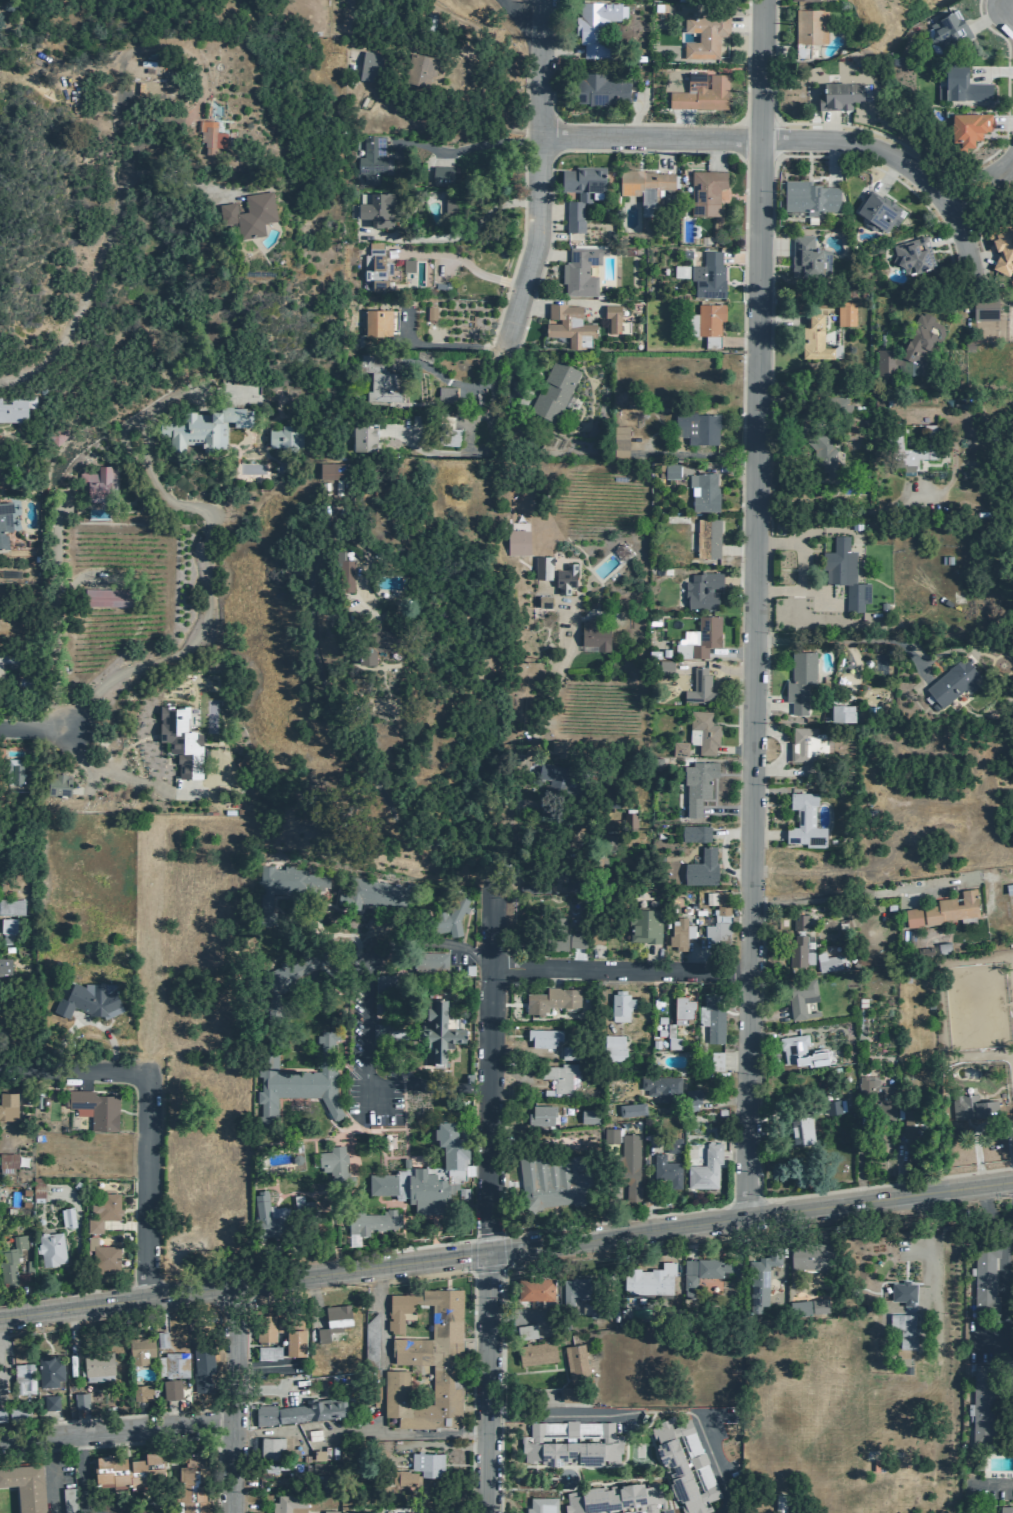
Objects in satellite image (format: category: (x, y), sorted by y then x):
building: (808, 0)
road: (1009, 2)
road: (1010, 9)
road: (352, 23)
road: (518, 23)
building: (596, 25)
building: (808, 29)
building: (947, 31)
building: (704, 33)
building: (368, 64)
building: (419, 68)
building: (959, 84)
building: (600, 90)
building: (701, 92)
building: (839, 95)
road: (649, 123)
building: (968, 126)
street lamp: (786, 127)
building: (207, 136)
road: (790, 143)
road: (138, 145)
road: (462, 149)
road: (644, 150)
road: (912, 150)
road: (781, 155)
building: (373, 160)
road: (1008, 168)
road: (540, 171)
building: (441, 175)
road: (180, 178)
road: (969, 182)
building: (643, 184)
road: (1006, 185)
building: (705, 191)
building: (581, 193)
building: (809, 197)
road: (981, 197)
road: (522, 202)
building: (448, 204)
building: (376, 209)
building: (877, 211)
building: (248, 212)
road: (971, 224)
street lamp: (969, 227)
road: (451, 237)
building: (1001, 245)
building: (685, 253)
building: (912, 254)
building: (807, 257)
road: (459, 258)
building: (407, 264)
building: (580, 270)
building: (376, 271)
building: (707, 275)
road: (85, 296)
road: (569, 300)
building: (983, 309)
building: (430, 312)
building: (845, 313)
building: (612, 318)
building: (379, 321)
building: (708, 322)
building: (568, 325)
building: (813, 338)
road: (439, 345)
building: (911, 345)
building: (379, 378)
road: (443, 381)
building: (548, 391)
building: (445, 393)
building: (874, 400)
building: (889, 400)
building: (834, 405)
building: (15, 407)
building: (205, 427)
building: (696, 427)
building: (59, 431)
building: (446, 431)
road: (468, 434)
building: (284, 436)
building: (363, 437)
building: (618, 441)
building: (816, 445)
building: (909, 447)
road: (485, 449)
road: (694, 454)
building: (334, 470)
building: (670, 470)
road: (739, 470)
building: (100, 484)
building: (704, 492)
road: (841, 511)
building: (530, 518)
building: (4, 522)
building: (855, 522)
road: (212, 531)
building: (707, 538)
building: (521, 543)
building: (542, 567)
road: (803, 567)
building: (343, 571)
building: (842, 571)
building: (355, 575)
building: (565, 578)
building: (701, 589)
building: (112, 599)
building: (543, 601)
building: (882, 605)
road: (755, 610)
building: (593, 633)
building: (705, 635)
road: (849, 639)
building: (376, 643)
building: (387, 652)
building: (665, 666)
road: (855, 668)
road: (765, 676)
building: (799, 680)
building: (952, 681)
building: (697, 686)
road: (737, 702)
road: (327, 703)
building: (840, 711)
building: (871, 713)
road: (29, 726)
building: (704, 731)
building: (183, 742)
building: (558, 746)
building: (679, 748)
building: (809, 749)
road: (513, 763)
building: (11, 771)
road: (106, 773)
building: (561, 781)
building: (58, 784)
building: (699, 785)
building: (869, 815)
road: (763, 816)
building: (803, 820)
building: (630, 821)
building: (694, 833)
building: (701, 868)
building: (285, 885)
building: (535, 888)
building: (1009, 888)
building: (369, 893)
road: (853, 894)
building: (722, 902)
building: (11, 906)
building: (942, 909)
building: (451, 917)
building: (798, 918)
building: (563, 924)
building: (643, 924)
building: (715, 932)
building: (680, 933)
building: (595, 934)
road: (761, 936)
building: (576, 940)
building: (797, 951)
building: (430, 962)
building: (826, 962)
building: (4, 966)
road: (368, 968)
road: (622, 973)
building: (293, 979)
building: (385, 994)
building: (800, 996)
building: (550, 1000)
building: (93, 1002)
building: (861, 1002)
building: (620, 1005)
park: (975, 1005)
building: (681, 1008)
building: (713, 1017)
road: (89, 1025)
building: (436, 1028)
building: (542, 1037)
building: (670, 1037)
building: (613, 1049)
building: (799, 1051)
road: (491, 1052)
building: (569, 1052)
parking lot: (366, 1053)
building: (711, 1061)
road: (74, 1073)
building: (557, 1077)
building: (298, 1079)
building: (661, 1087)
road: (444, 1089)
building: (876, 1095)
building: (691, 1096)
building: (830, 1101)
building: (971, 1107)
building: (10, 1108)
building: (631, 1109)
building: (98, 1111)
building: (721, 1112)
building: (542, 1115)
building: (588, 1116)
building: (797, 1125)
road: (989, 1126)
building: (911, 1129)
building: (672, 1143)
building: (689, 1152)
building: (11, 1162)
building: (333, 1162)
building: (623, 1163)
building: (704, 1168)
building: (665, 1170)
building: (426, 1173)
building: (553, 1179)
road: (873, 1185)
road: (149, 1187)
building: (37, 1190)
building: (461, 1192)
road: (1012, 1194)
building: (0, 1204)
road: (987, 1210)
building: (103, 1211)
building: (279, 1215)
building: (68, 1216)
road: (750, 1219)
building: (372, 1221)
road: (126, 1224)
road: (761, 1229)
road: (486, 1236)
road: (76, 1240)
road: (431, 1244)
building: (50, 1249)
road: (504, 1249)
road: (924, 1249)
road: (471, 1255)
building: (811, 1255)
building: (104, 1257)
building: (13, 1260)
road: (487, 1269)
building: (706, 1269)
building: (984, 1278)
building: (648, 1279)
building: (760, 1279)
road: (1002, 1281)
road: (356, 1284)
road: (244, 1288)
building: (534, 1288)
building: (580, 1288)
building: (902, 1292)
road: (319, 1302)
building: (807, 1306)
building: (333, 1322)
building: (264, 1326)
road: (236, 1329)
building: (901, 1329)
building: (525, 1331)
building: (291, 1333)
building: (369, 1339)
parking lot: (982, 1341)
building: (140, 1349)
building: (267, 1352)
building: (536, 1352)
building: (425, 1358)
road: (245, 1361)
building: (97, 1363)
building: (201, 1363)
building: (575, 1363)
building: (174, 1365)
road: (264, 1365)
building: (49, 1368)
building: (23, 1378)
road: (231, 1382)
road: (240, 1382)
road: (486, 1383)
road: (471, 1385)
road: (499, 1385)
building: (170, 1389)
road: (266, 1391)
building: (141, 1392)
building: (574, 1394)
building: (80, 1400)
building: (49, 1402)
road: (381, 1403)
building: (982, 1403)
building: (299, 1410)
building: (25, 1411)
road: (676, 1411)
building: (2, 1414)
road: (559, 1414)
building: (17, 1415)
road: (90, 1418)
road: (116, 1430)
road: (354, 1433)
building: (313, 1434)
building: (570, 1442)
road: (432, 1443)
building: (270, 1448)
road: (232, 1453)
building: (317, 1454)
park: (638, 1454)
building: (322, 1455)
building: (354, 1456)
building: (426, 1463)
road: (717, 1464)
road: (618, 1465)
building: (684, 1465)
building: (272, 1468)
building: (324, 1468)
building: (128, 1470)
road: (51, 1474)
road: (663, 1474)
road: (82, 1475)
building: (406, 1478)
building: (191, 1483)
road: (576, 1483)
road: (990, 1483)
building: (25, 1485)
parking lot: (987, 1493)
road: (666, 1494)
building: (616, 1499)
building: (68, 1500)
road: (557, 1501)
building: (290, 1504)
building: (116, 1505)
building: (541, 1505)
building: (1004, 1509)
building: (975, 1510)
building: (329, 1511)
building: (362, 1511)

